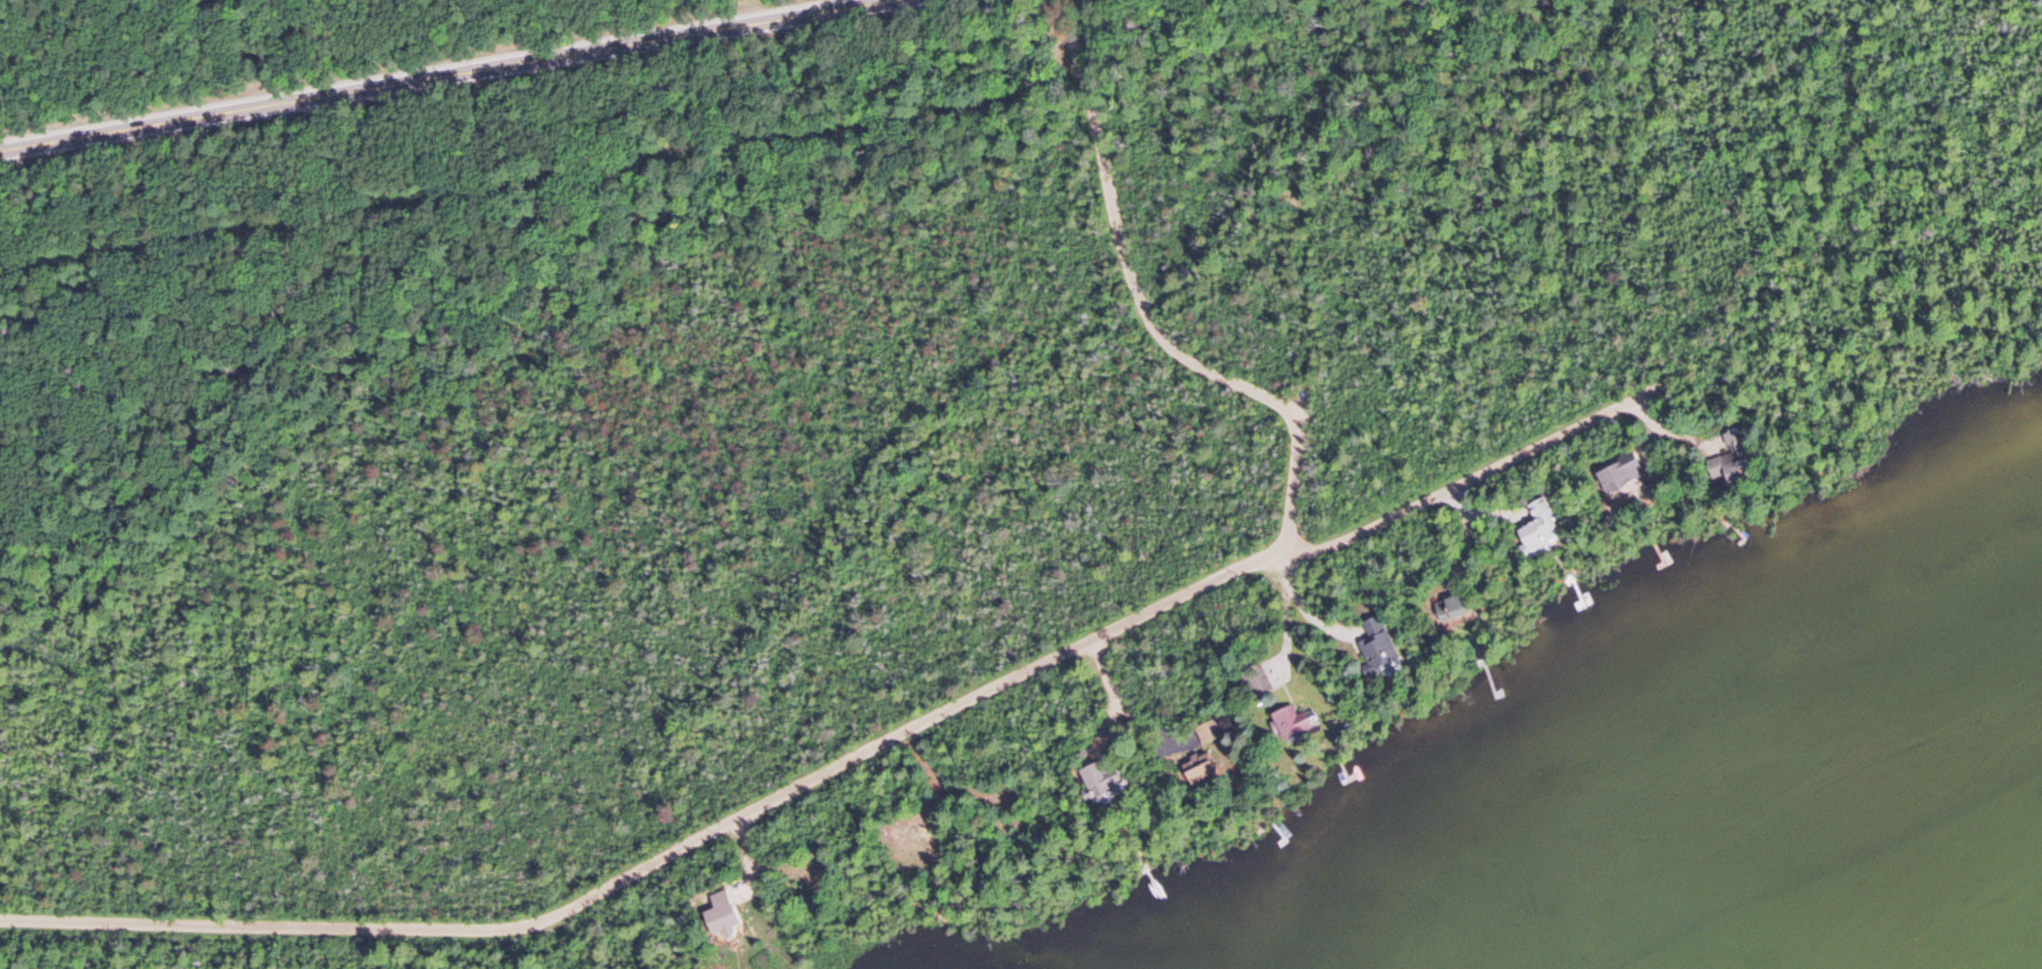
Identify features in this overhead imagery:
road: (446, 76)
road: (1145, 306)
building: (1622, 474)
building: (1540, 529)
building: (1458, 607)
building: (1380, 650)
building: (1257, 682)
building: (1296, 722)
building: (1208, 734)
road: (844, 760)
building: (1210, 777)
building: (1100, 782)
building: (722, 916)

